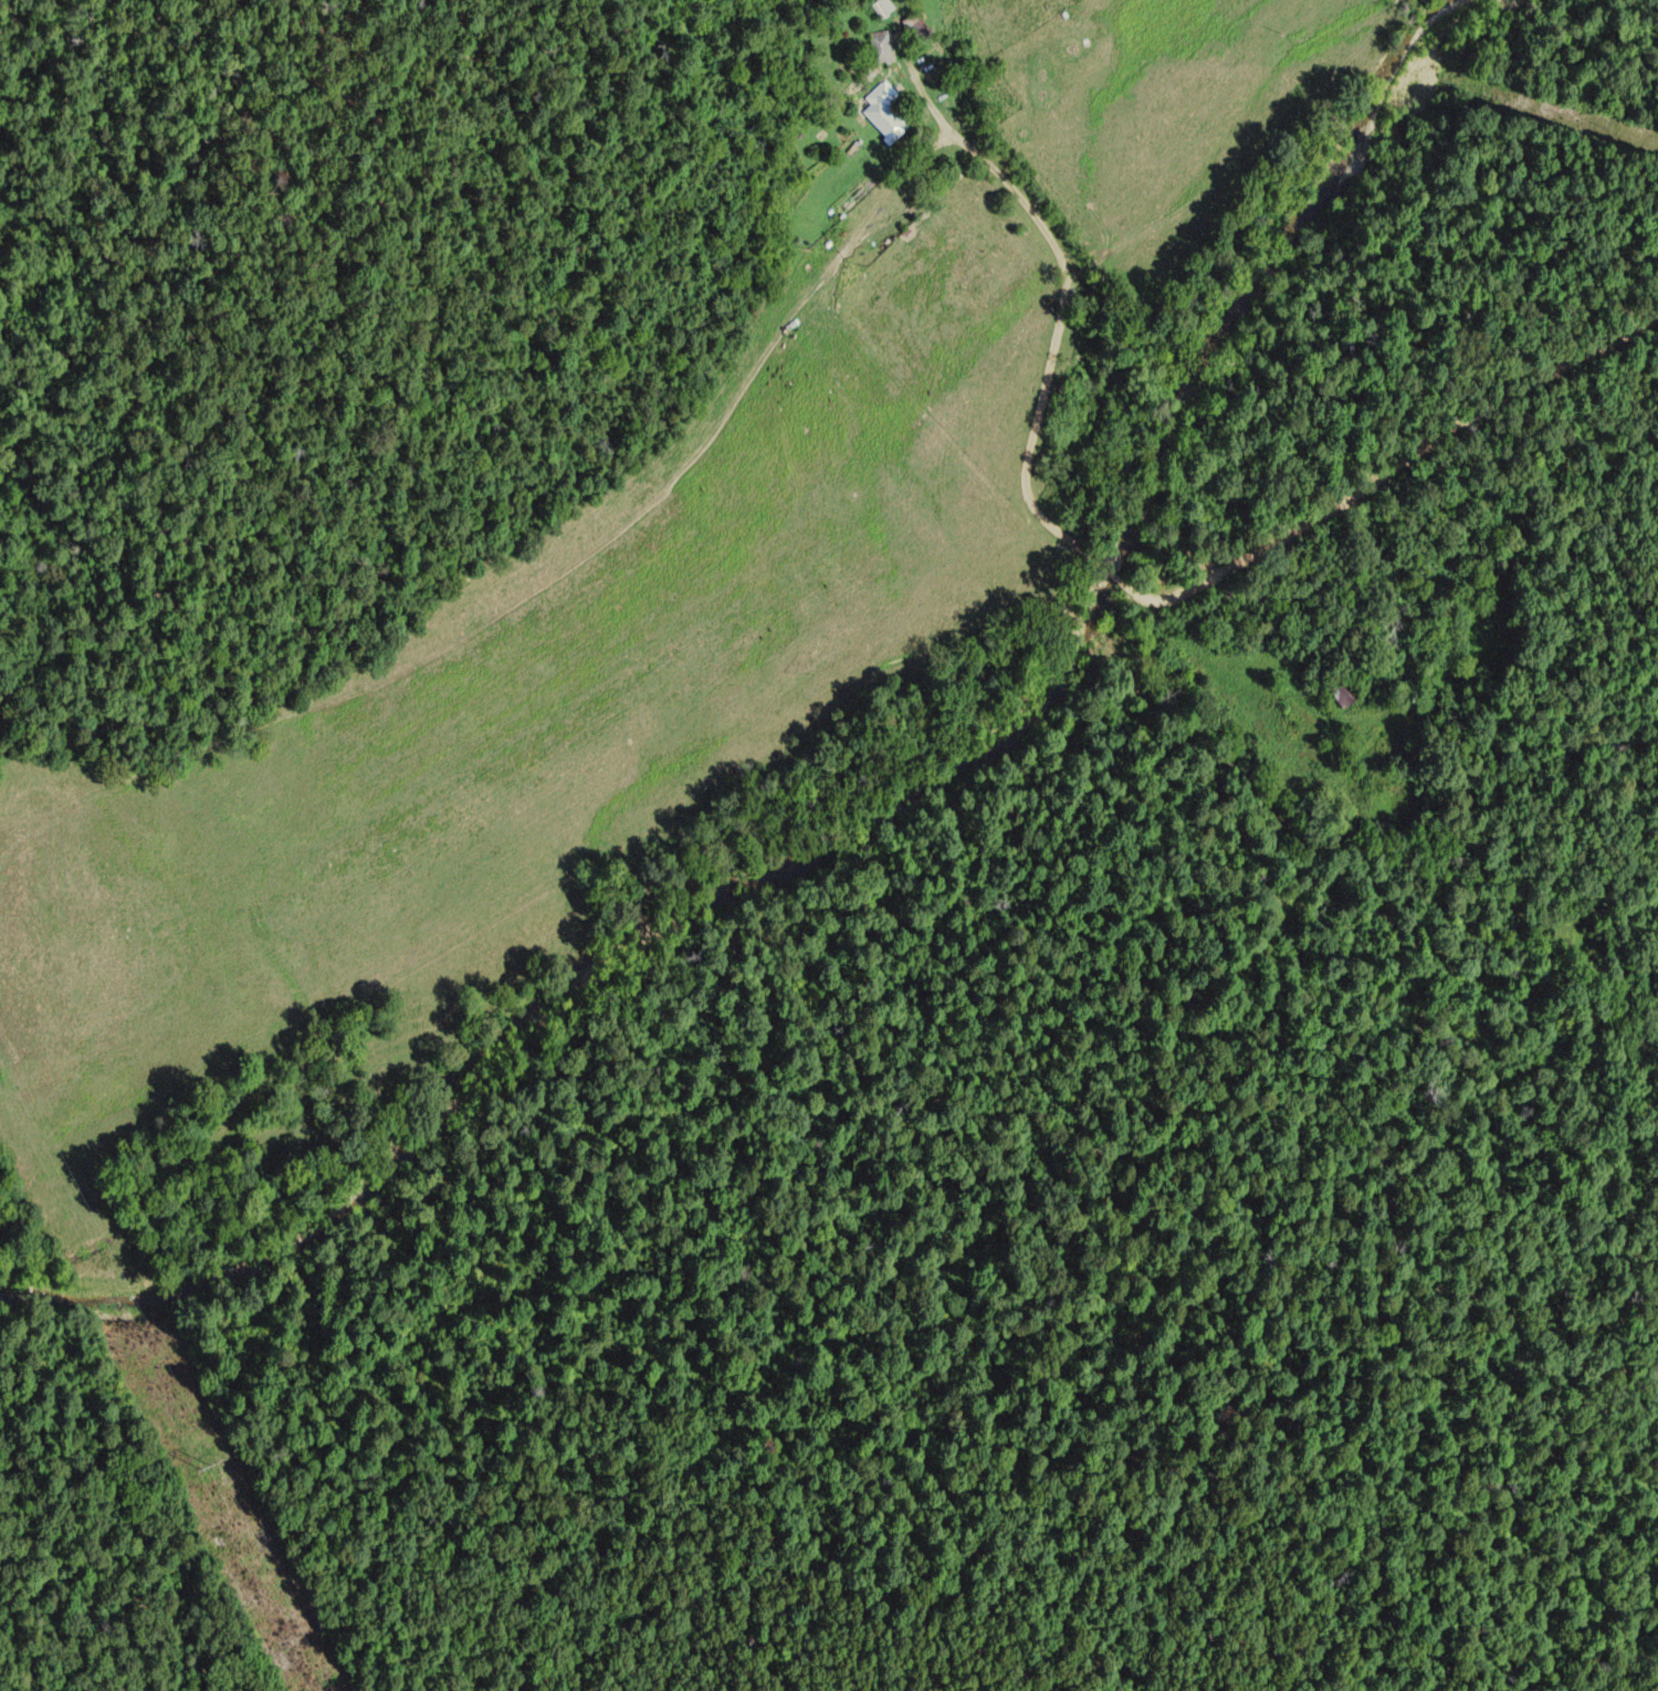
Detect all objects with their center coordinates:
building: (914, 31)
building: (880, 51)
building: (883, 116)
road: (1091, 563)
building: (1343, 696)

